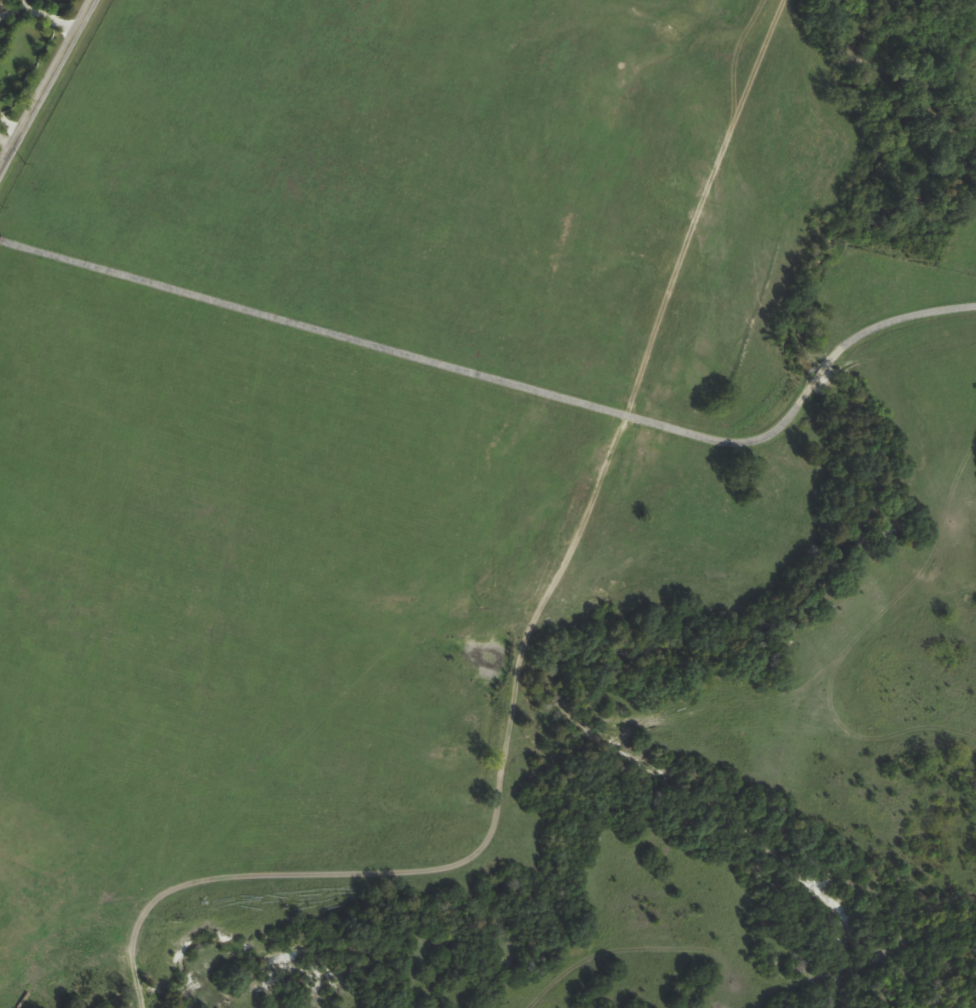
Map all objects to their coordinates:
road: (46, 85)
road: (507, 383)

